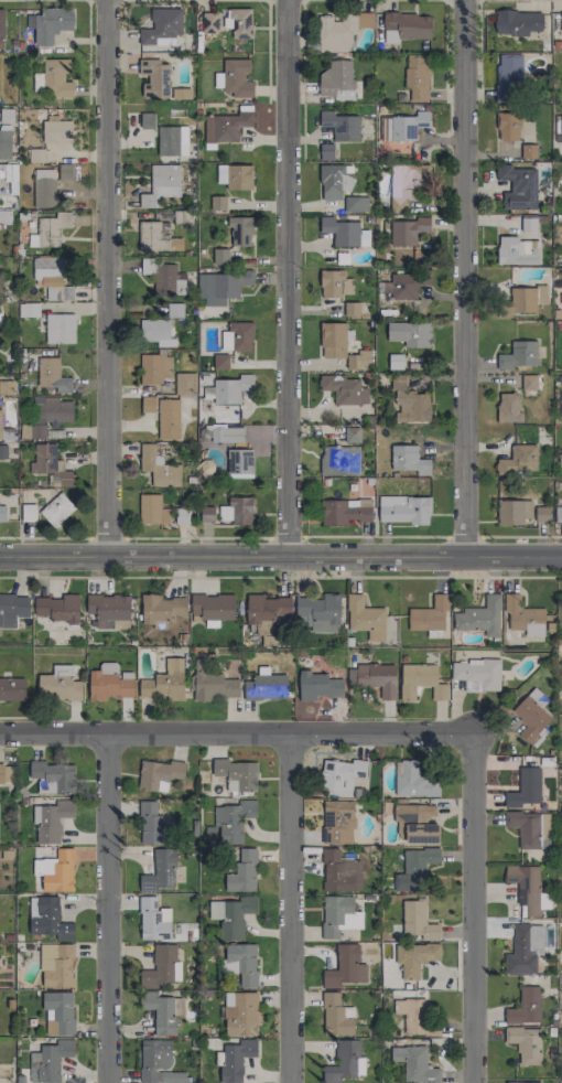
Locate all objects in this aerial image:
road: (479, 3)
building: (209, 22)
building: (239, 22)
building: (518, 22)
building: (561, 22)
building: (50, 23)
building: (162, 26)
building: (406, 26)
building: (1, 29)
building: (341, 31)
building: (154, 77)
building: (418, 77)
building: (508, 77)
building: (56, 78)
building: (234, 78)
building: (336, 79)
building: (181, 93)
building: (7, 116)
building: (147, 120)
building: (227, 125)
building: (341, 125)
building: (406, 125)
building: (506, 125)
building: (559, 128)
building: (56, 131)
building: (172, 140)
building: (4, 143)
building: (326, 151)
building: (528, 151)
building: (36, 156)
building: (65, 171)
building: (235, 176)
building: (334, 181)
building: (161, 184)
building: (407, 184)
building: (518, 186)
building: (44, 187)
building: (218, 203)
building: (356, 204)
building: (6, 216)
building: (528, 223)
building: (48, 229)
building: (240, 230)
building: (407, 230)
building: (344, 232)
building: (156, 236)
building: (517, 250)
building: (219, 256)
road: (462, 277)
building: (52, 278)
road: (107, 278)
road: (281, 278)
building: (166, 280)
building: (231, 283)
building: (407, 285)
building: (334, 286)
building: (561, 296)
building: (527, 298)
building: (28, 309)
building: (352, 309)
building: (173, 310)
building: (60, 328)
building: (154, 332)
building: (409, 333)
building: (237, 336)
building: (341, 346)
building: (518, 355)
building: (395, 361)
building: (220, 362)
building: (154, 368)
building: (52, 374)
building: (529, 382)
building: (185, 383)
building: (6, 387)
building: (230, 388)
building: (344, 389)
building: (410, 403)
building: (148, 404)
building: (560, 406)
building: (508, 407)
building: (48, 414)
building: (169, 419)
building: (24, 430)
building: (226, 433)
building: (352, 435)
building: (560, 458)
building: (408, 459)
building: (519, 459)
building: (339, 460)
building: (239, 462)
building: (50, 464)
building: (158, 467)
building: (56, 510)
building: (403, 510)
building: (159, 511)
building: (241, 511)
building: (345, 511)
building: (28, 512)
building: (520, 512)
building: (225, 513)
building: (2, 514)
building: (558, 514)
building: (206, 515)
road: (287, 536)
road: (376, 536)
road: (465, 536)
road: (522, 536)
road: (45, 537)
road: (108, 537)
road: (197, 537)
road: (281, 556)
road: (281, 577)
building: (162, 607)
building: (212, 607)
building: (57, 608)
building: (12, 609)
building: (109, 611)
building: (264, 612)
building: (318, 612)
building: (430, 616)
building: (479, 616)
building: (523, 616)
building: (365, 618)
building: (477, 674)
building: (378, 678)
building: (109, 682)
building: (164, 682)
building: (420, 682)
building: (60, 684)
building: (215, 686)
building: (266, 686)
building: (318, 686)
building: (12, 688)
building: (532, 716)
road: (236, 734)
building: (6, 772)
building: (53, 774)
building: (158, 774)
building: (236, 774)
building: (341, 775)
building: (413, 781)
building: (525, 789)
building: (233, 819)
building: (51, 821)
building: (337, 821)
building: (415, 823)
building: (151, 824)
building: (530, 828)
building: (414, 869)
building: (56, 871)
building: (160, 871)
building: (242, 871)
building: (339, 872)
building: (528, 889)
road: (106, 909)
road: (288, 909)
road: (473, 909)
building: (231, 915)
building: (338, 915)
building: (47, 918)
building: (153, 920)
building: (417, 921)
building: (561, 937)
building: (523, 948)
building: (415, 957)
building: (241, 964)
building: (56, 965)
building: (161, 967)
building: (345, 967)
building: (526, 1006)
building: (162, 1011)
building: (58, 1012)
building: (240, 1014)
building: (336, 1016)
building: (413, 1017)
building: (525, 1043)
building: (236, 1059)
building: (48, 1060)
building: (155, 1061)
building: (345, 1063)
building: (414, 1064)
building: (523, 1082)

